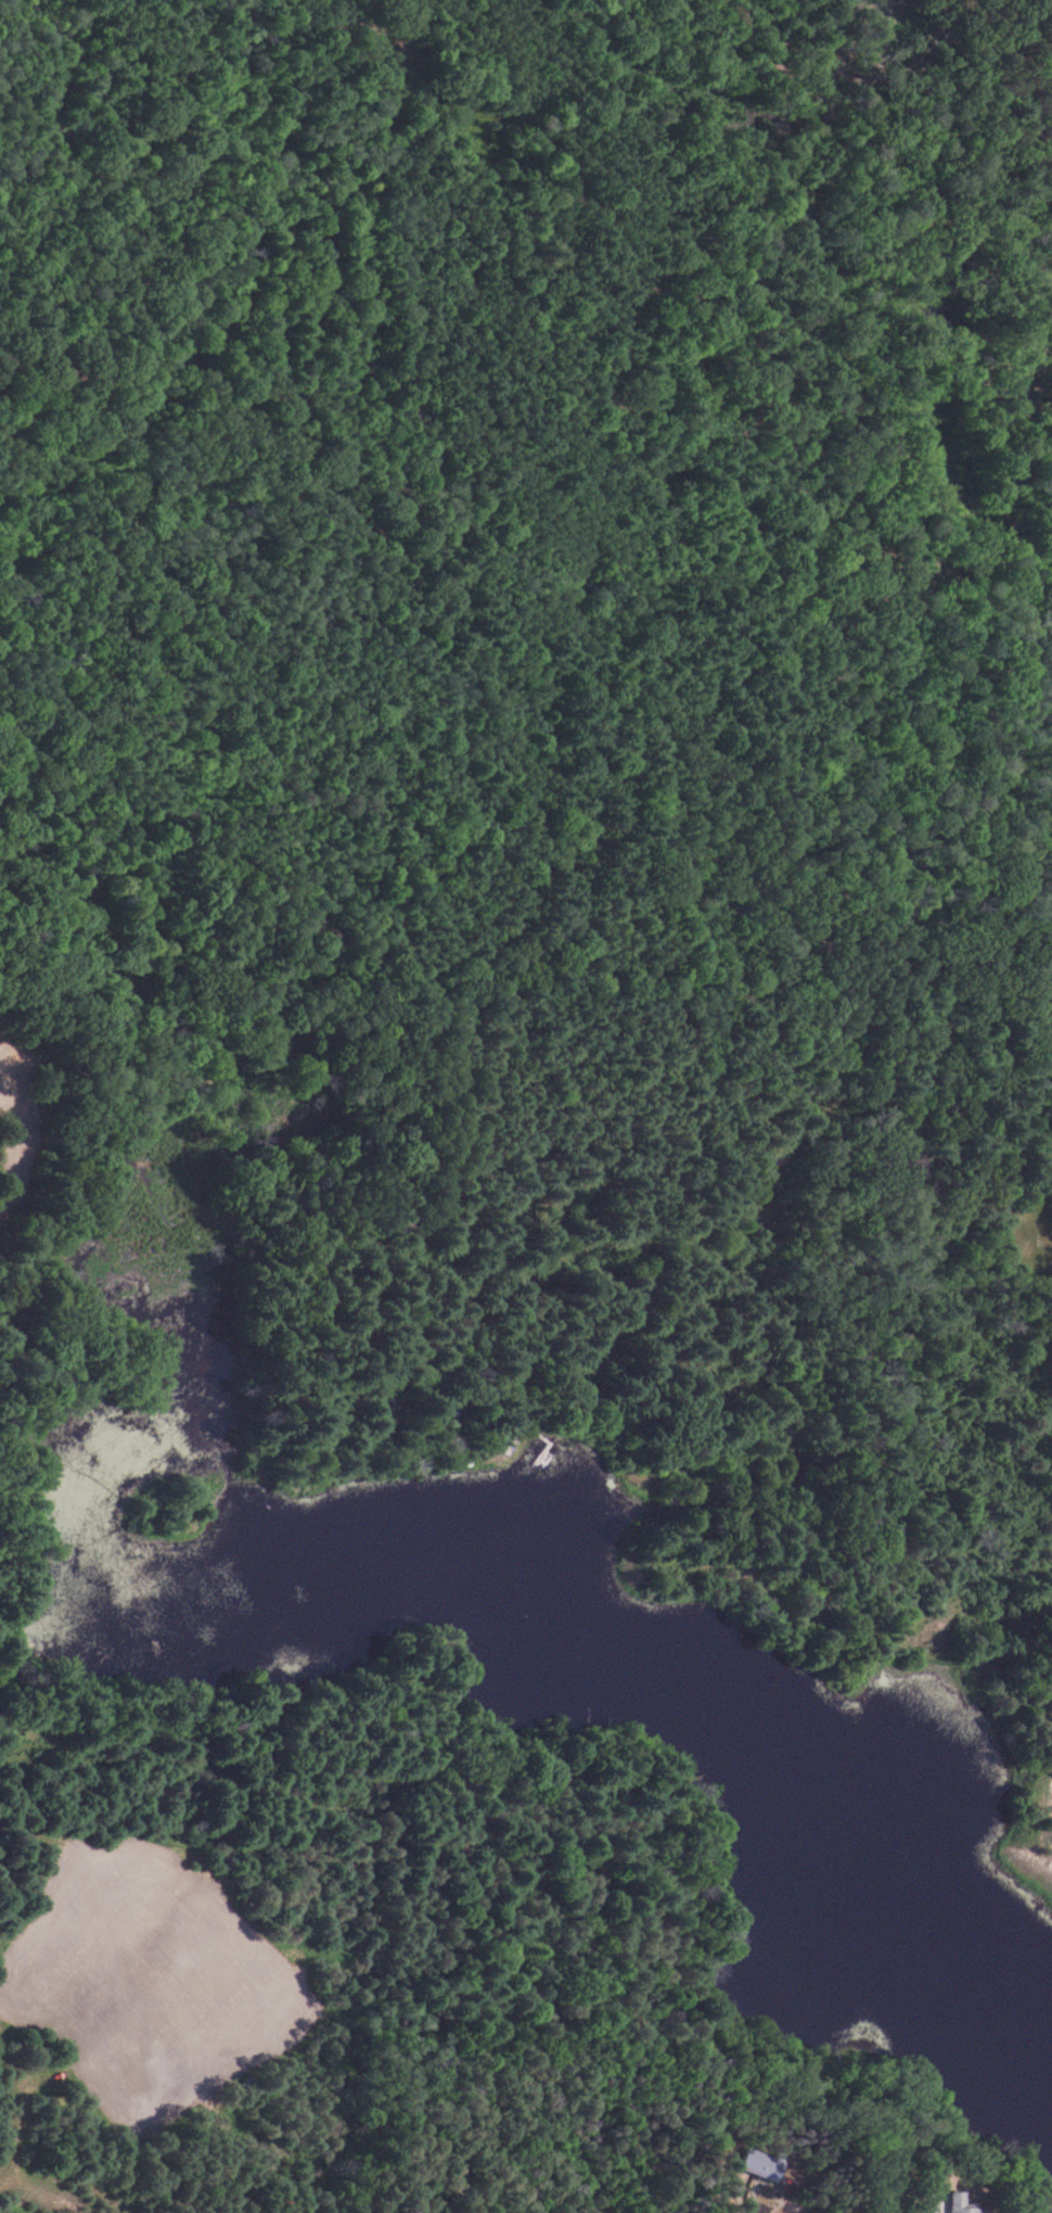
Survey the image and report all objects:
building: (745, 2161)
building: (940, 2202)

